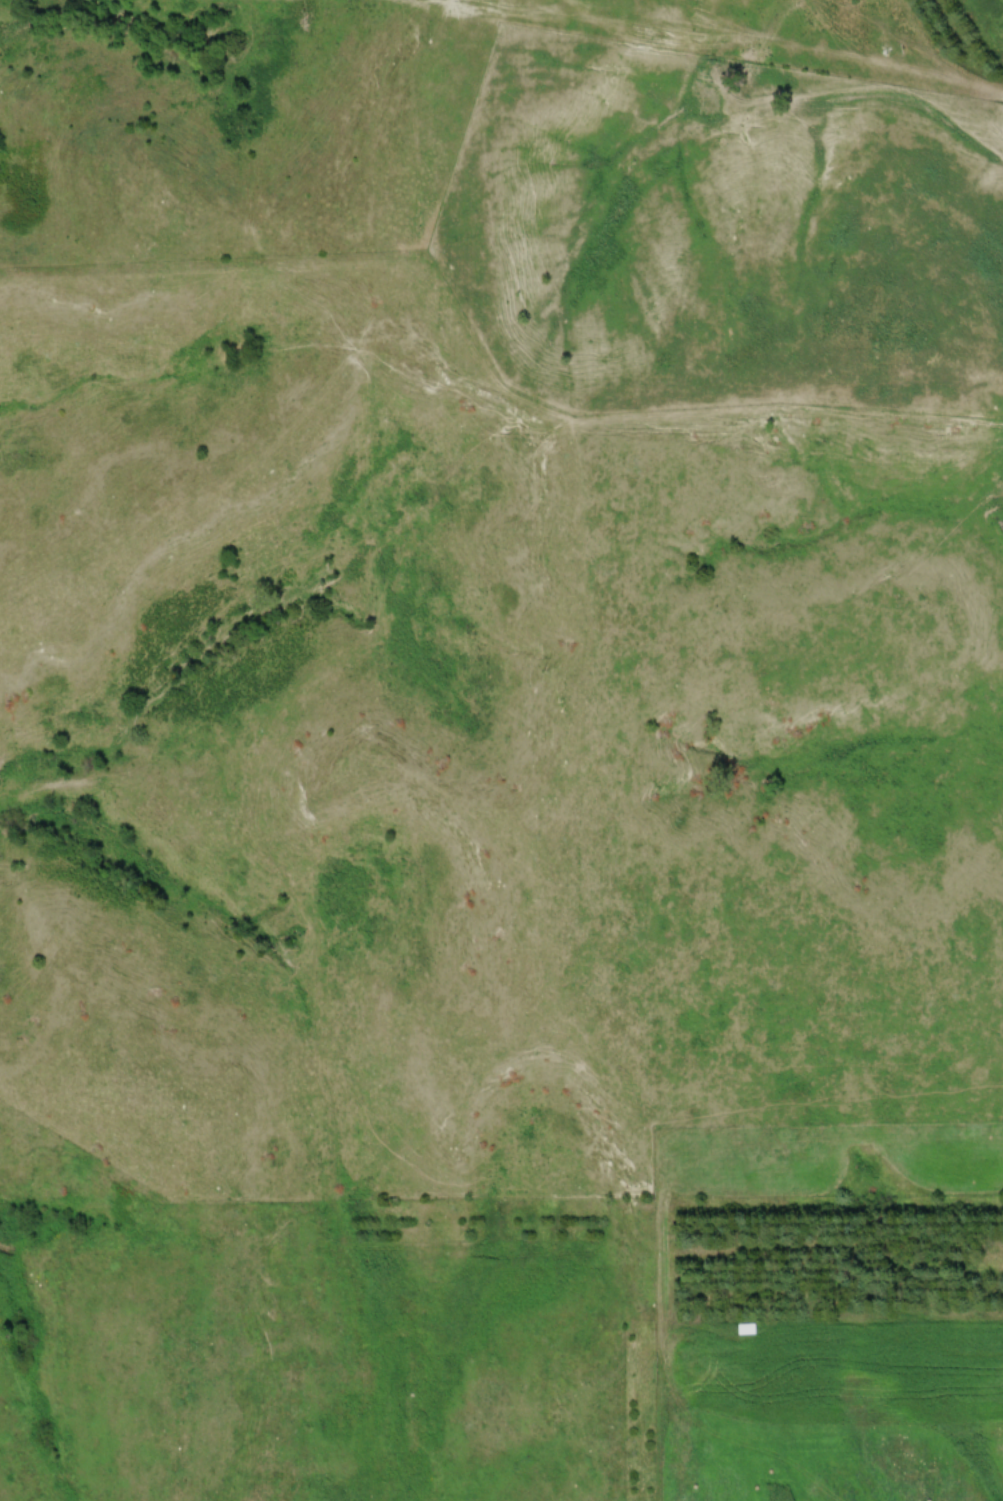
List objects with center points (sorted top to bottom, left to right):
building: (747, 1332)

